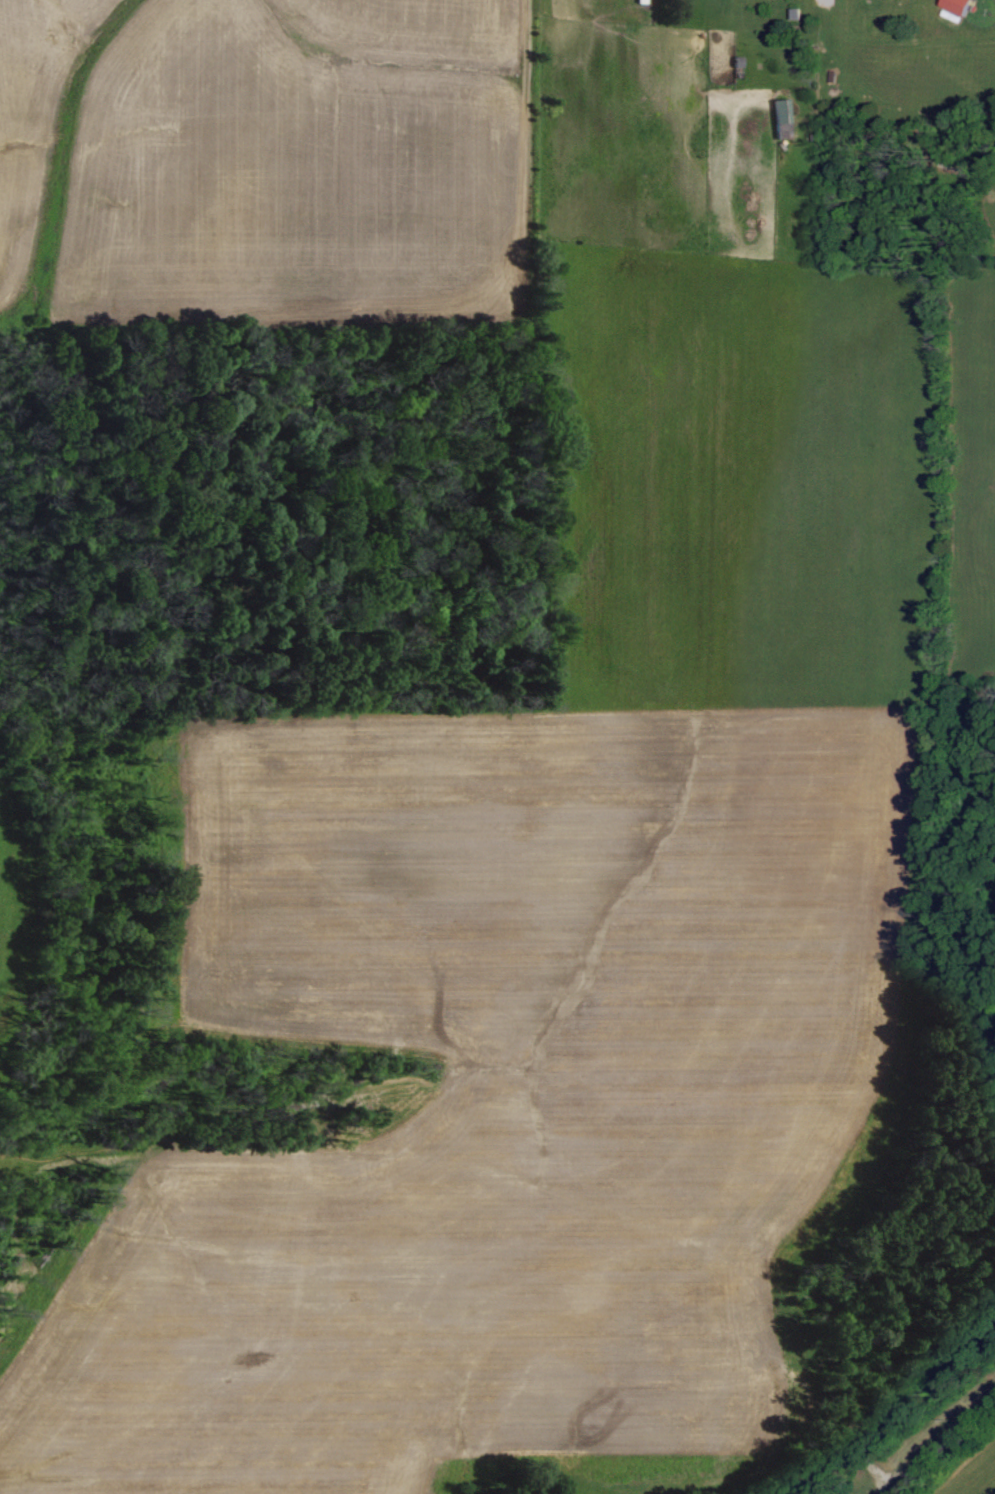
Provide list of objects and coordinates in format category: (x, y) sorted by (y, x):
building: (963, 6)
building: (781, 112)
road: (943, 1449)

